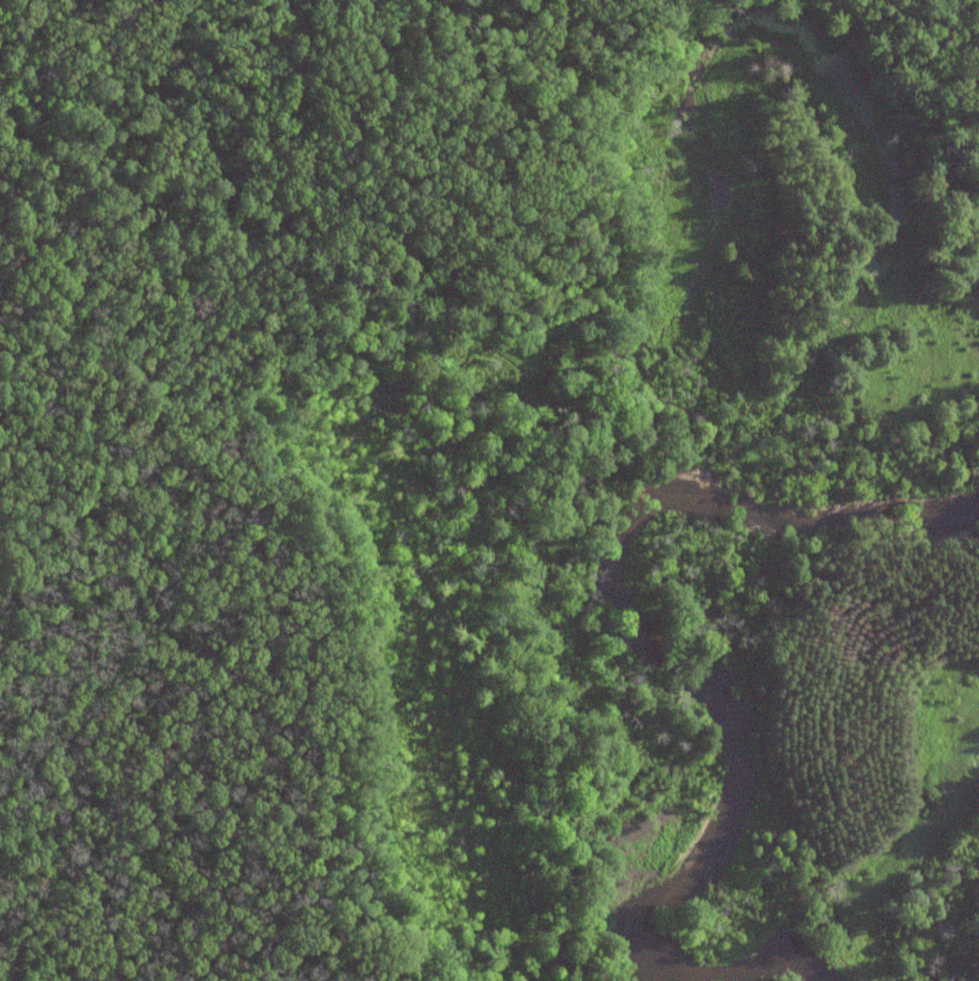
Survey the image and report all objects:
river: (629, 614)
river: (759, 960)

